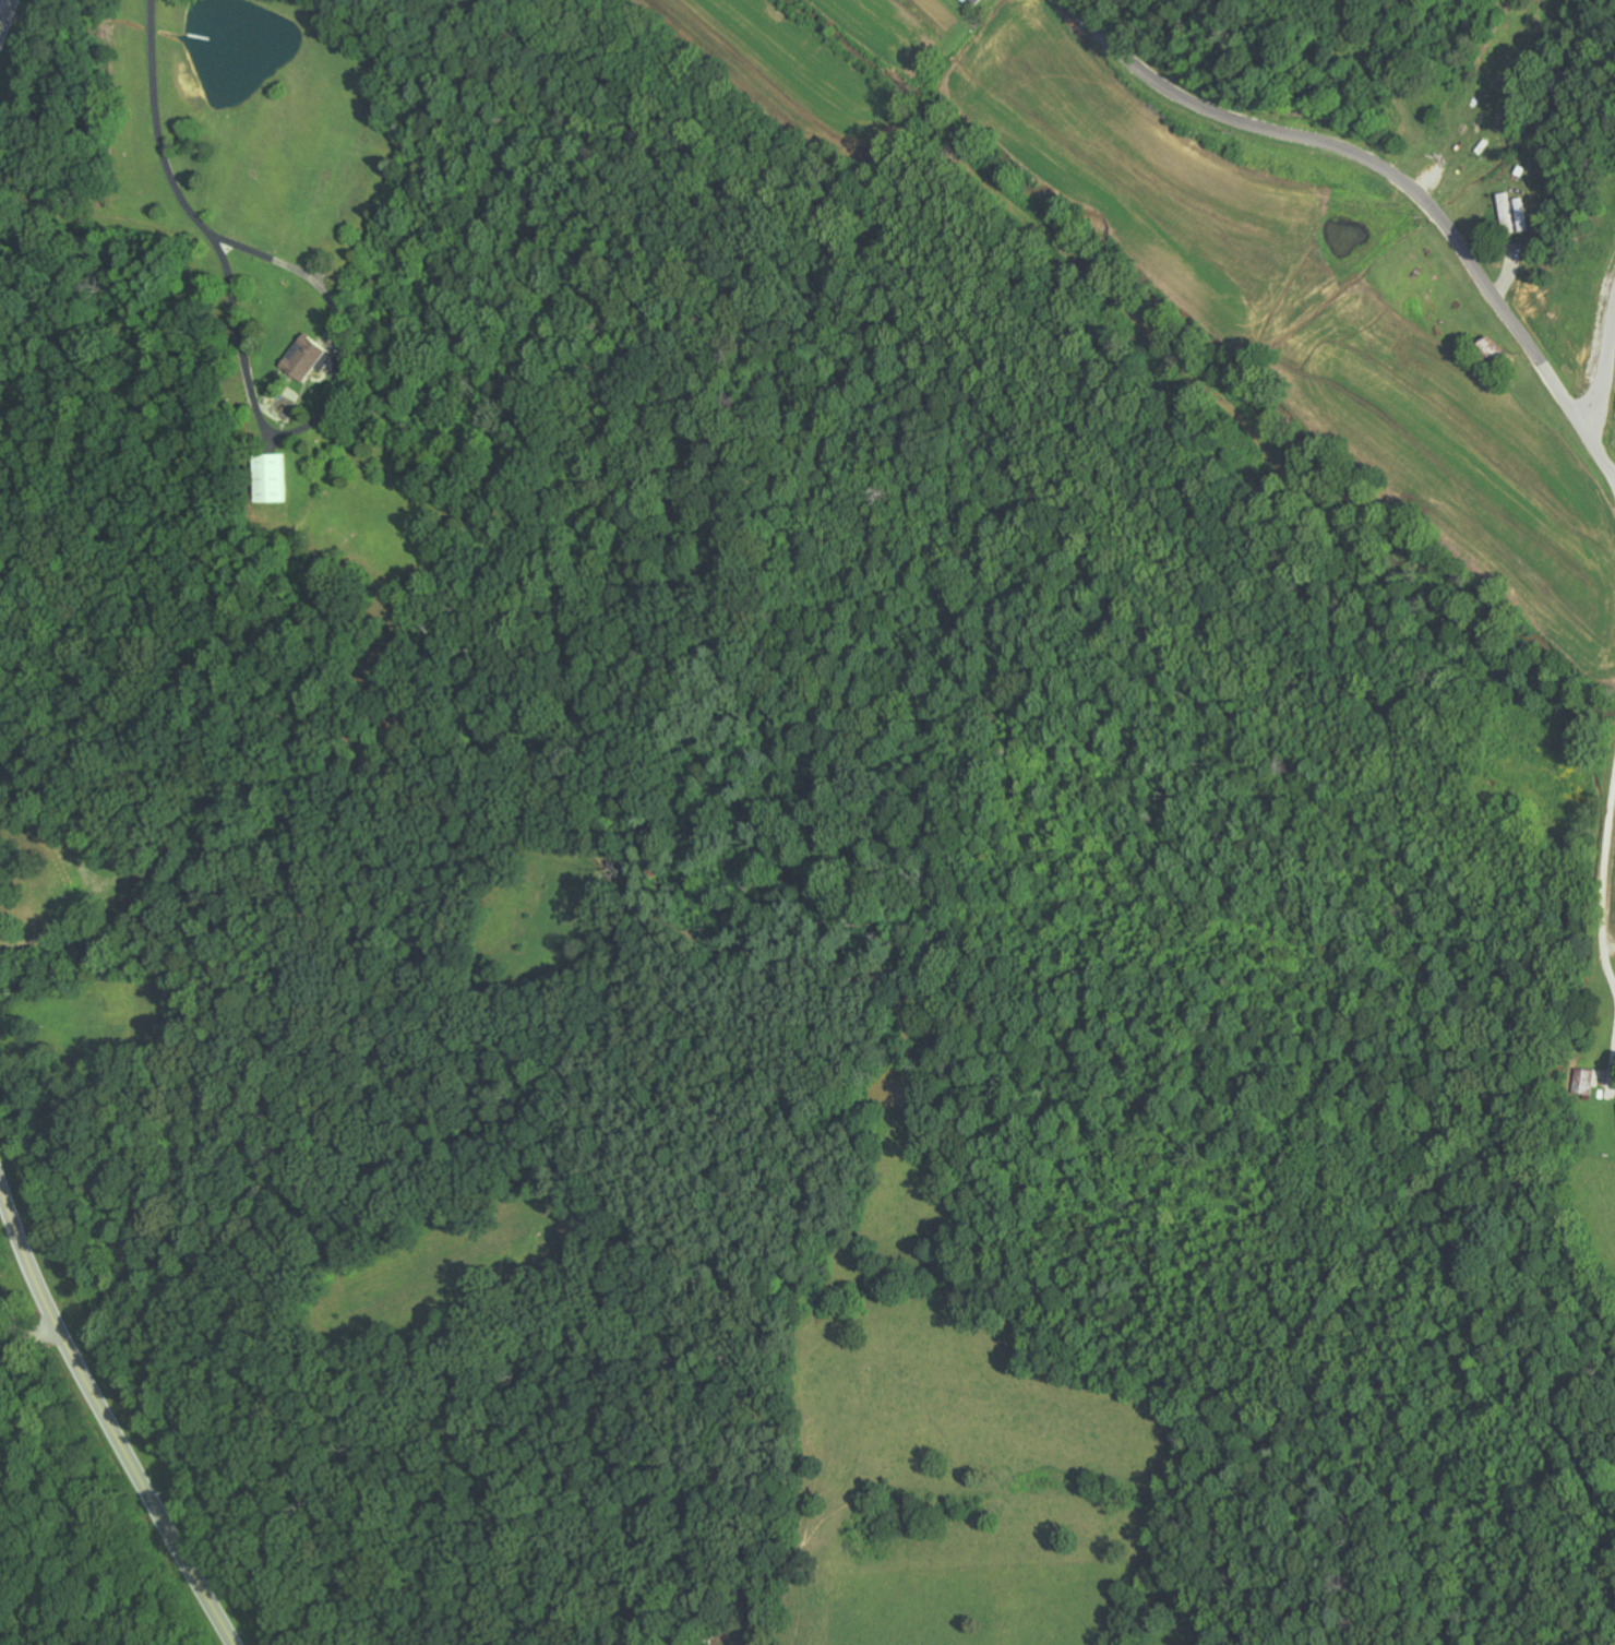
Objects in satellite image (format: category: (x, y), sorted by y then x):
building: (973, 1)
road: (5, 15)
road: (1388, 177)
building: (308, 357)
road: (1607, 376)
building: (270, 478)
road: (1612, 480)
road: (1602, 910)
road: (276, 1060)
road: (29, 1336)
road: (107, 1420)

